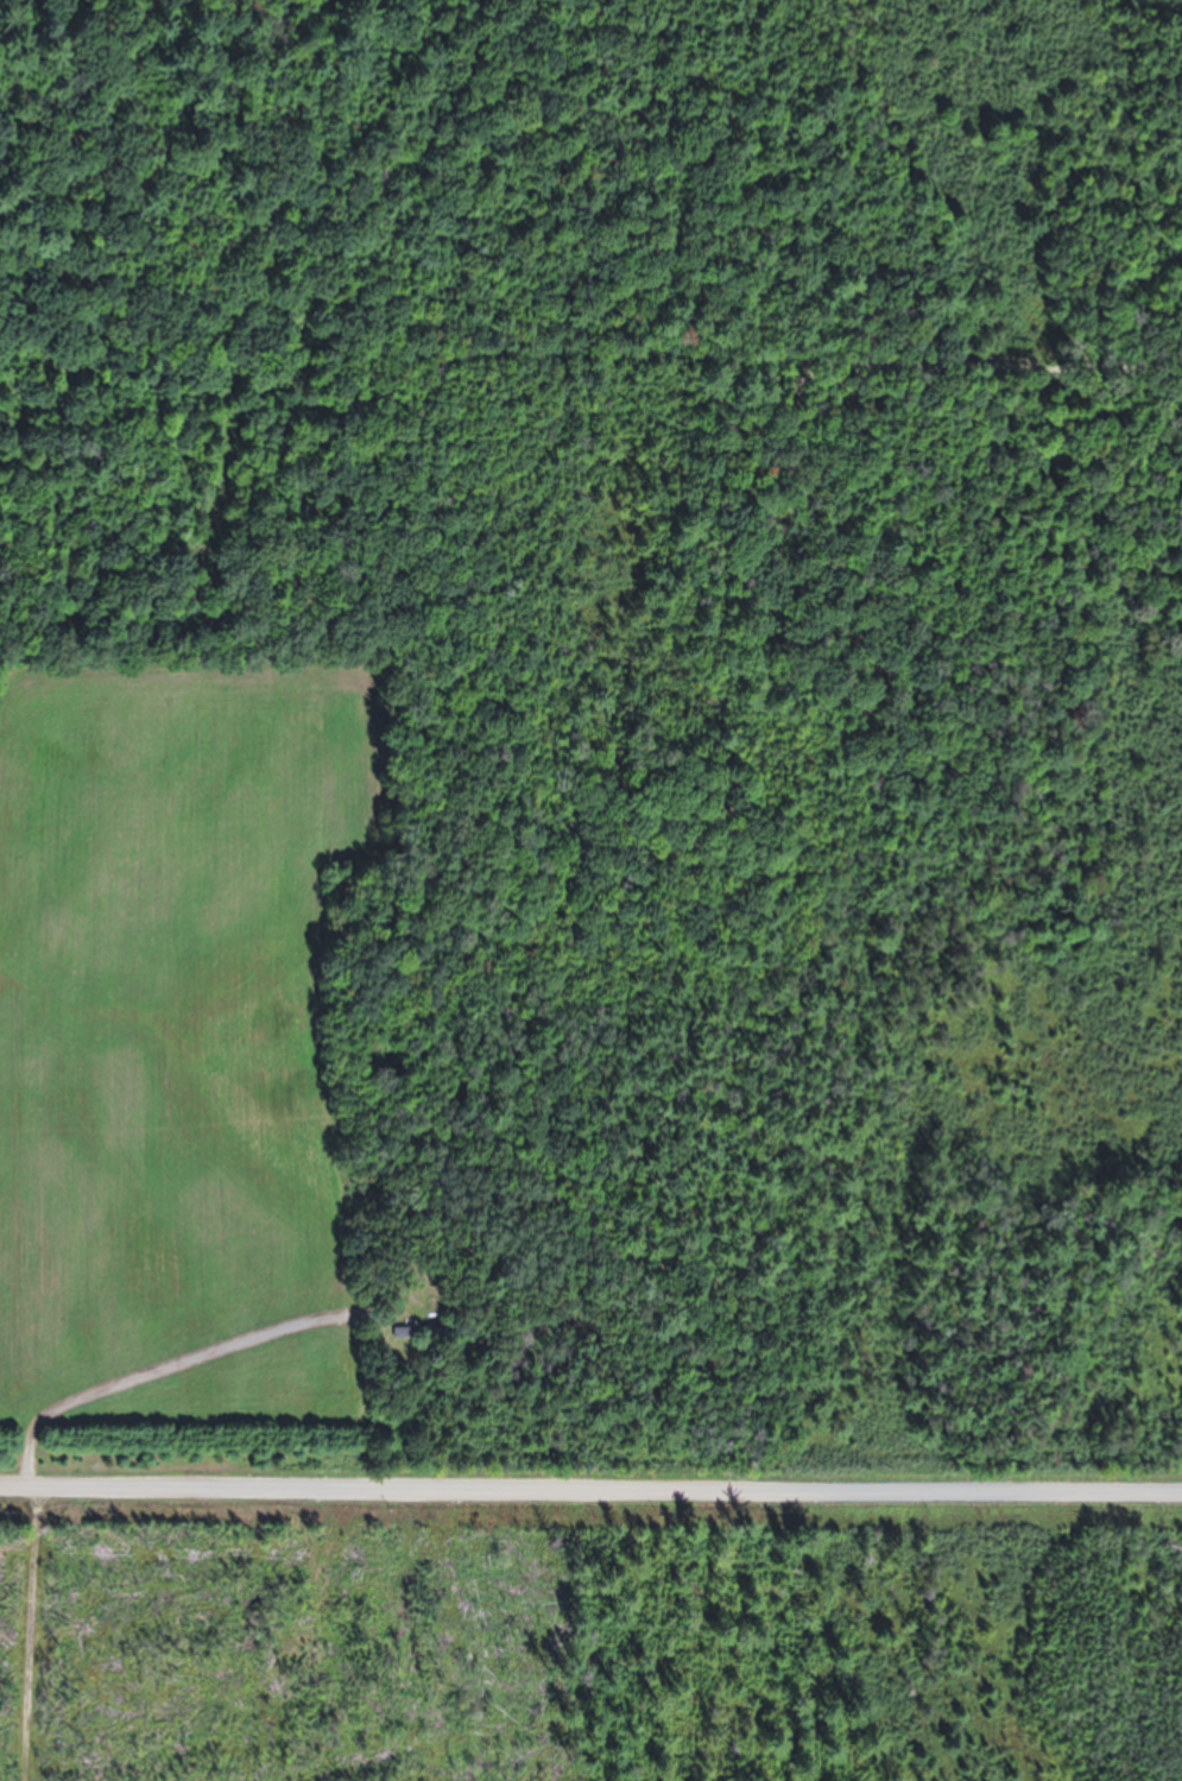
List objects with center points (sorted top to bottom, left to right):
building: (421, 1328)
road: (590, 1495)

